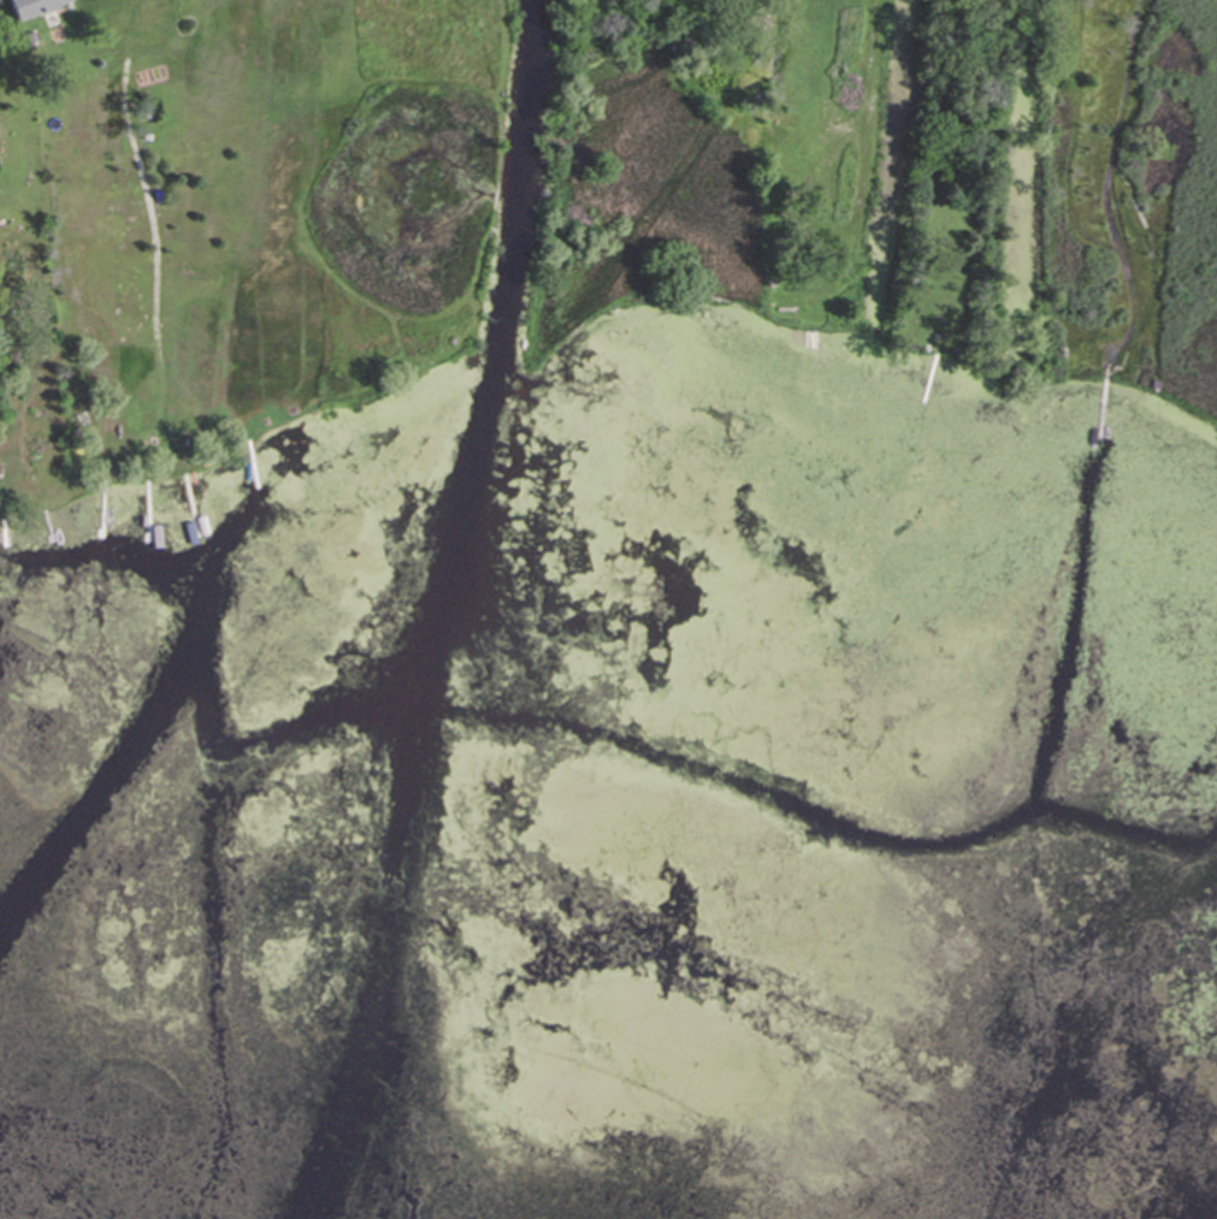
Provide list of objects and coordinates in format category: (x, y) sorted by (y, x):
building: (36, 8)
road: (774, 30)

